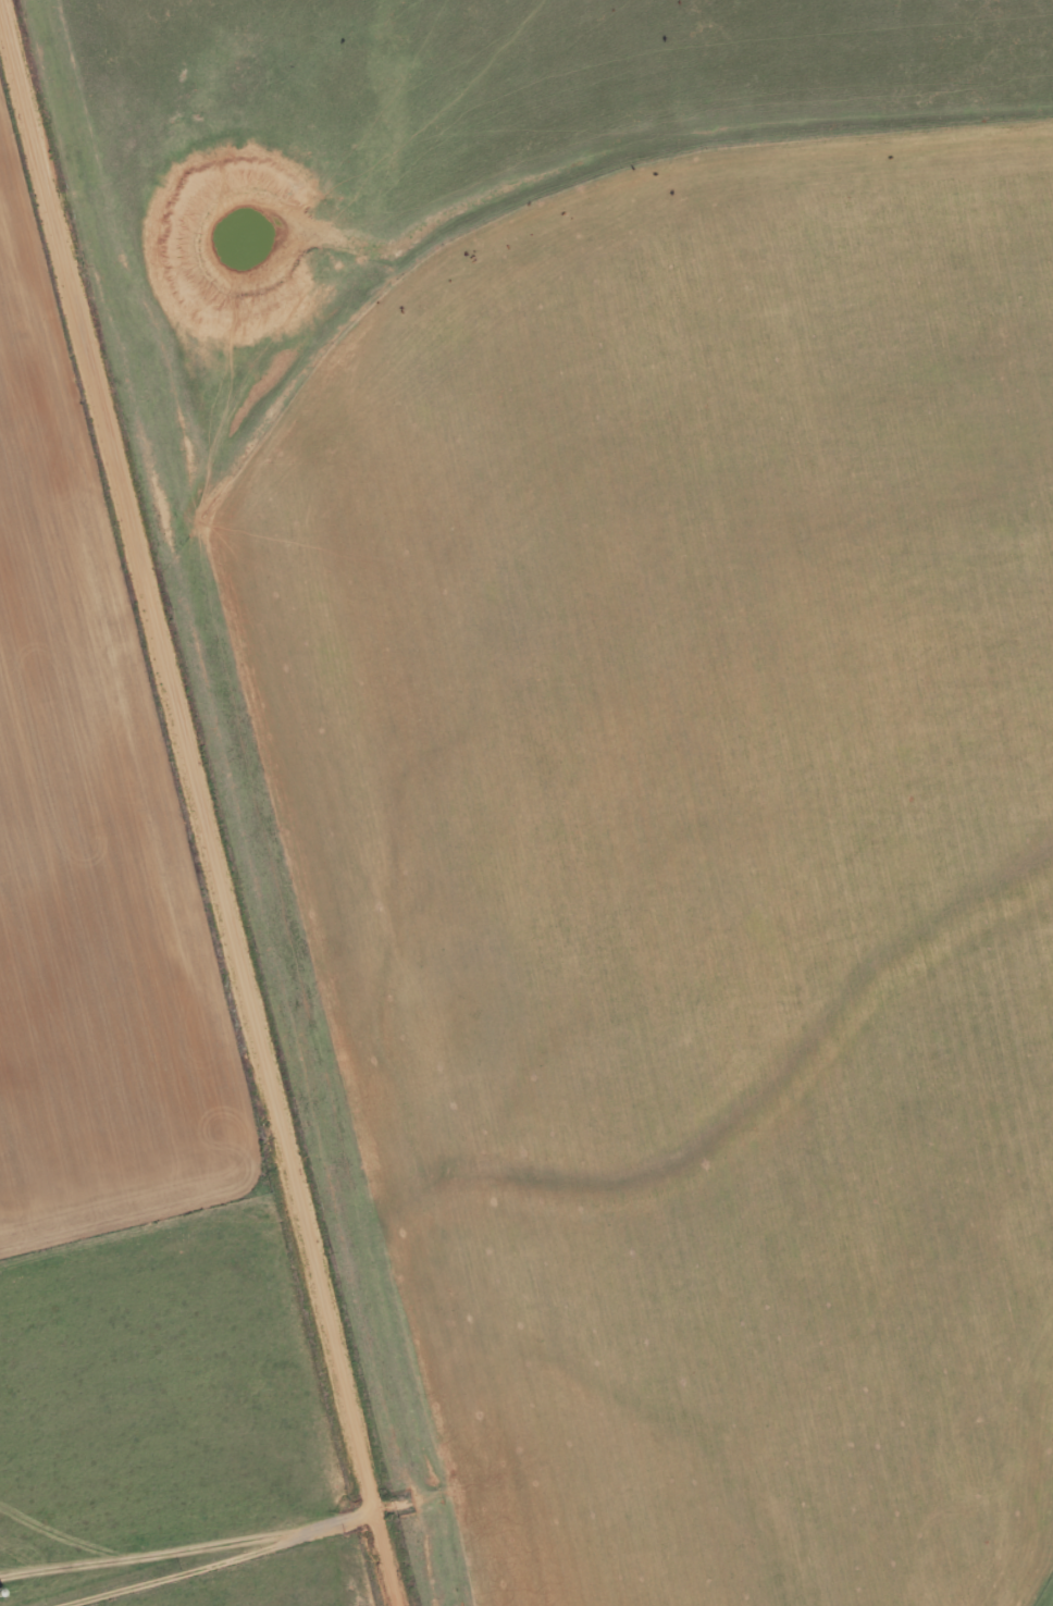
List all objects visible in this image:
road: (197, 813)
road: (186, 1547)

